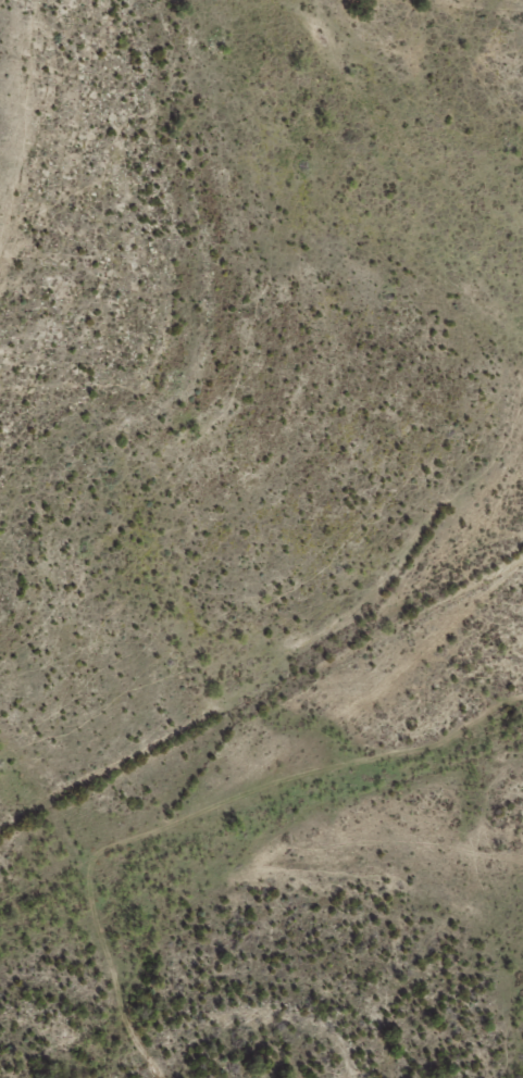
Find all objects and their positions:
road: (54, 208)
road: (87, 812)

